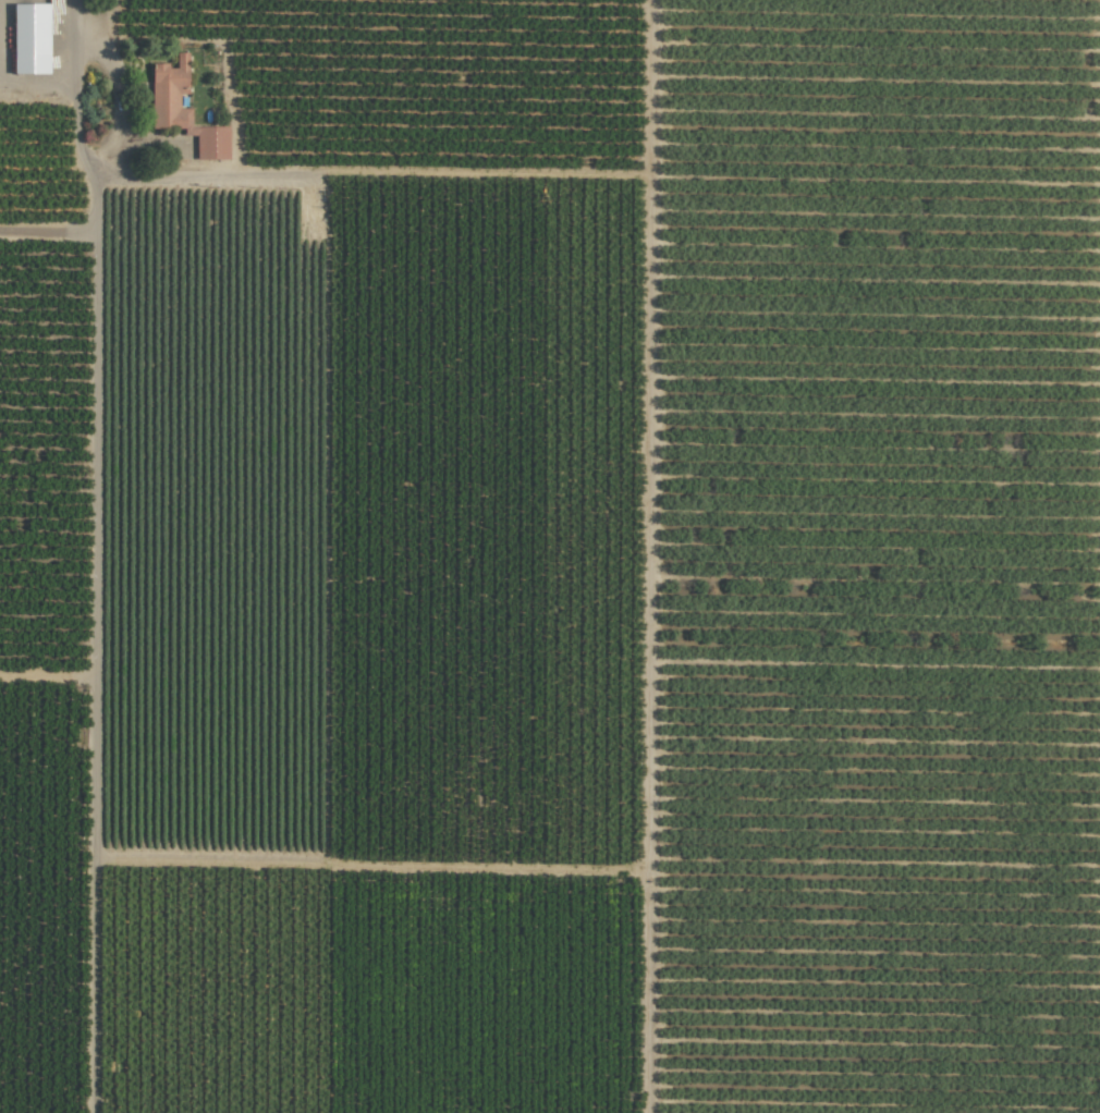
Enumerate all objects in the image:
building: (29, 38)
road: (73, 45)
building: (183, 111)
road: (327, 170)
road: (652, 555)

